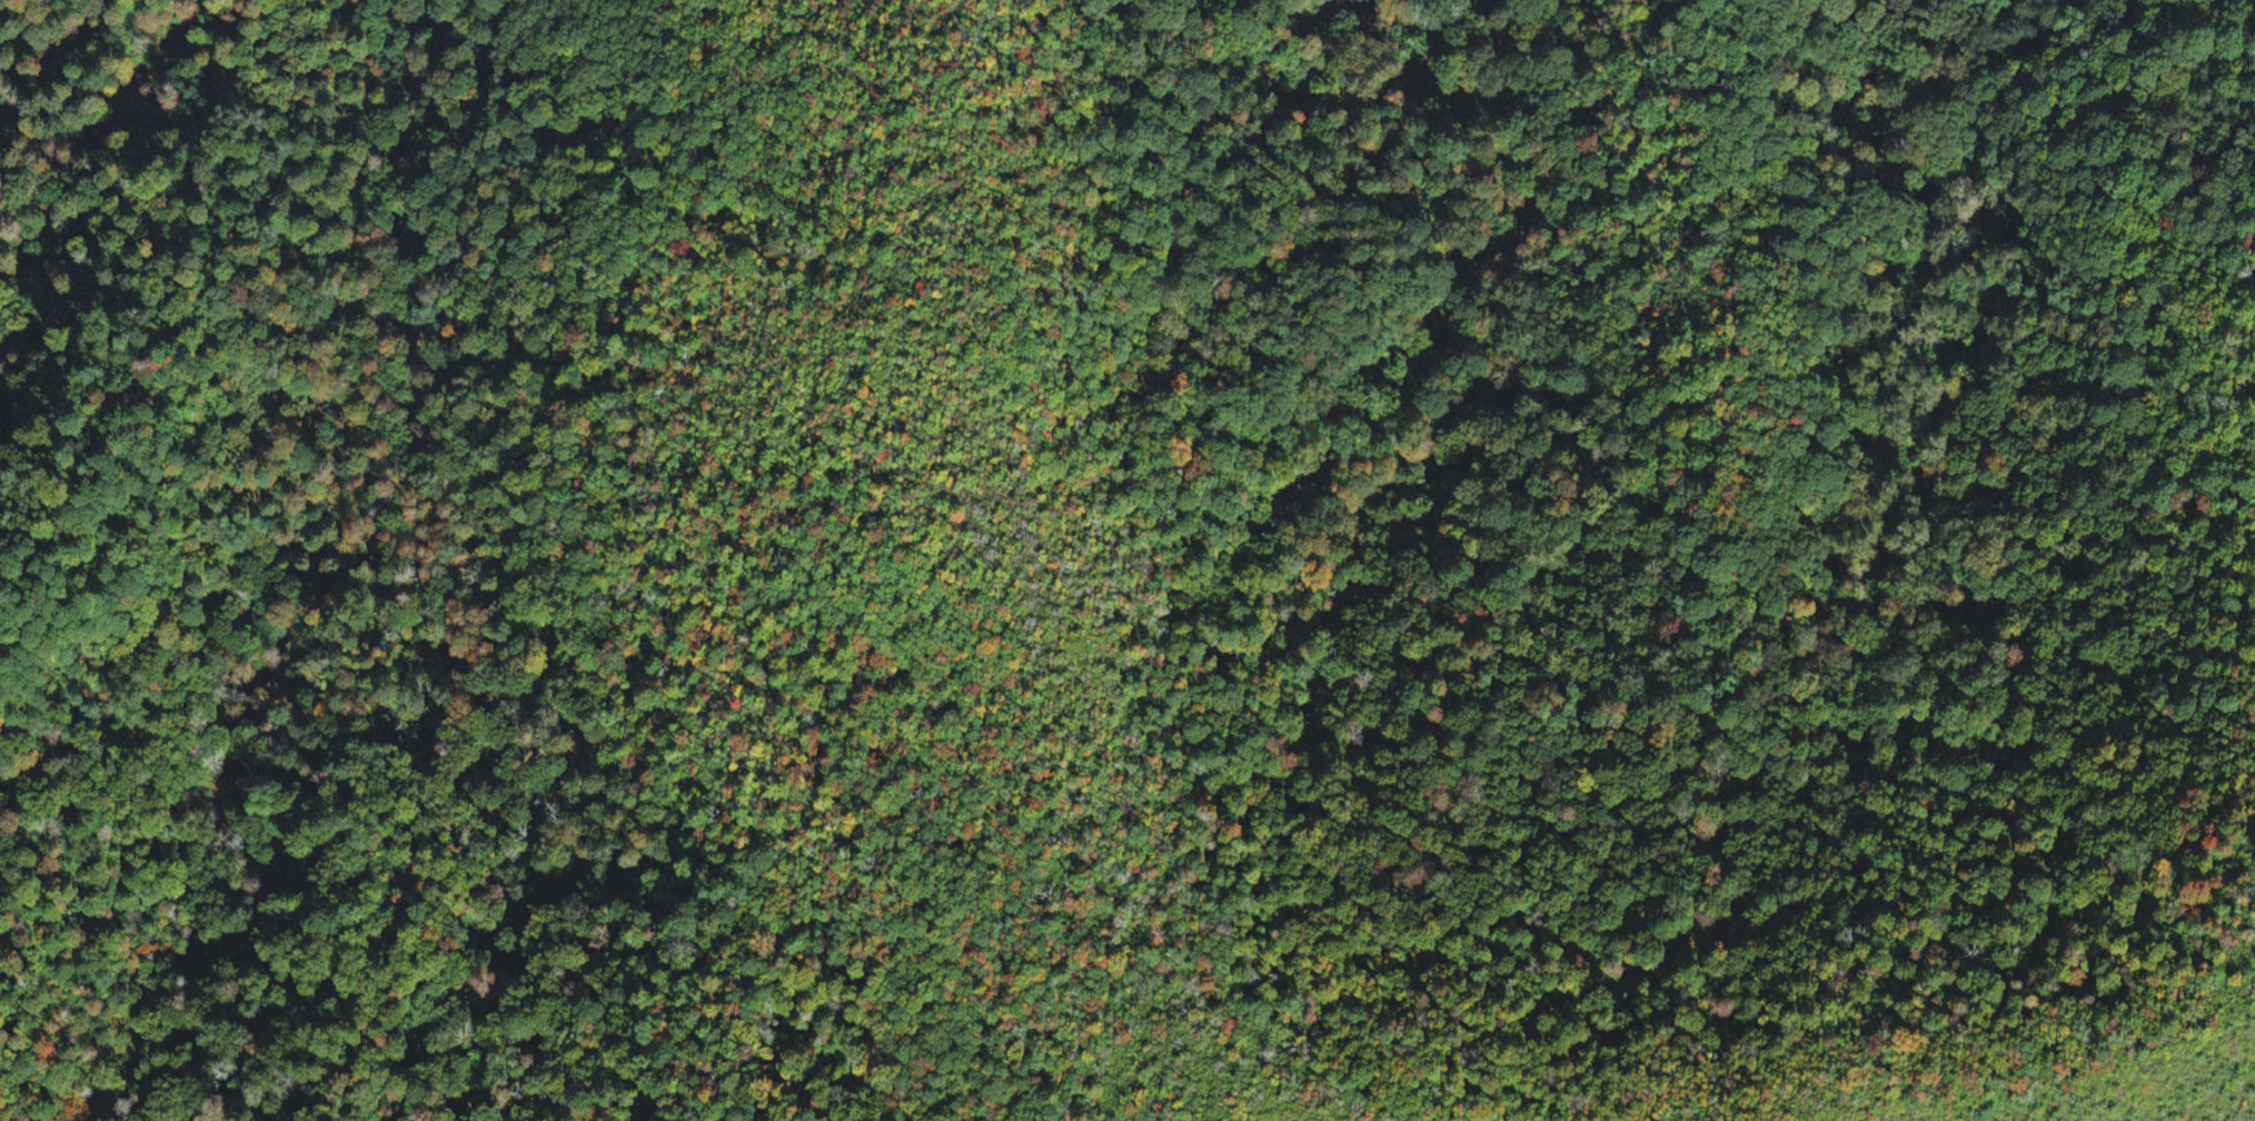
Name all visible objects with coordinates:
road: (1888, 2)

